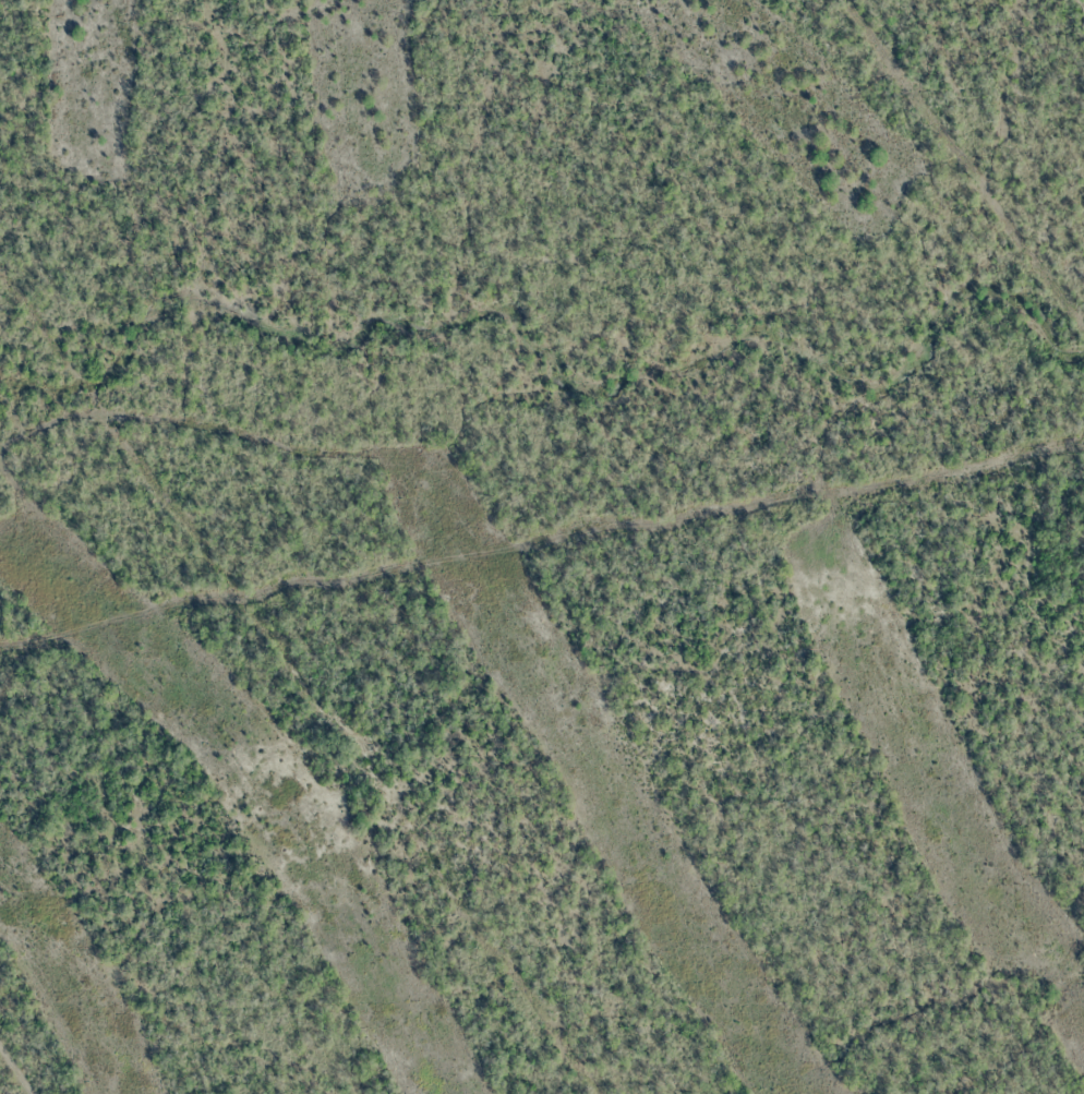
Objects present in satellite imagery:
road: (144, 1013)

